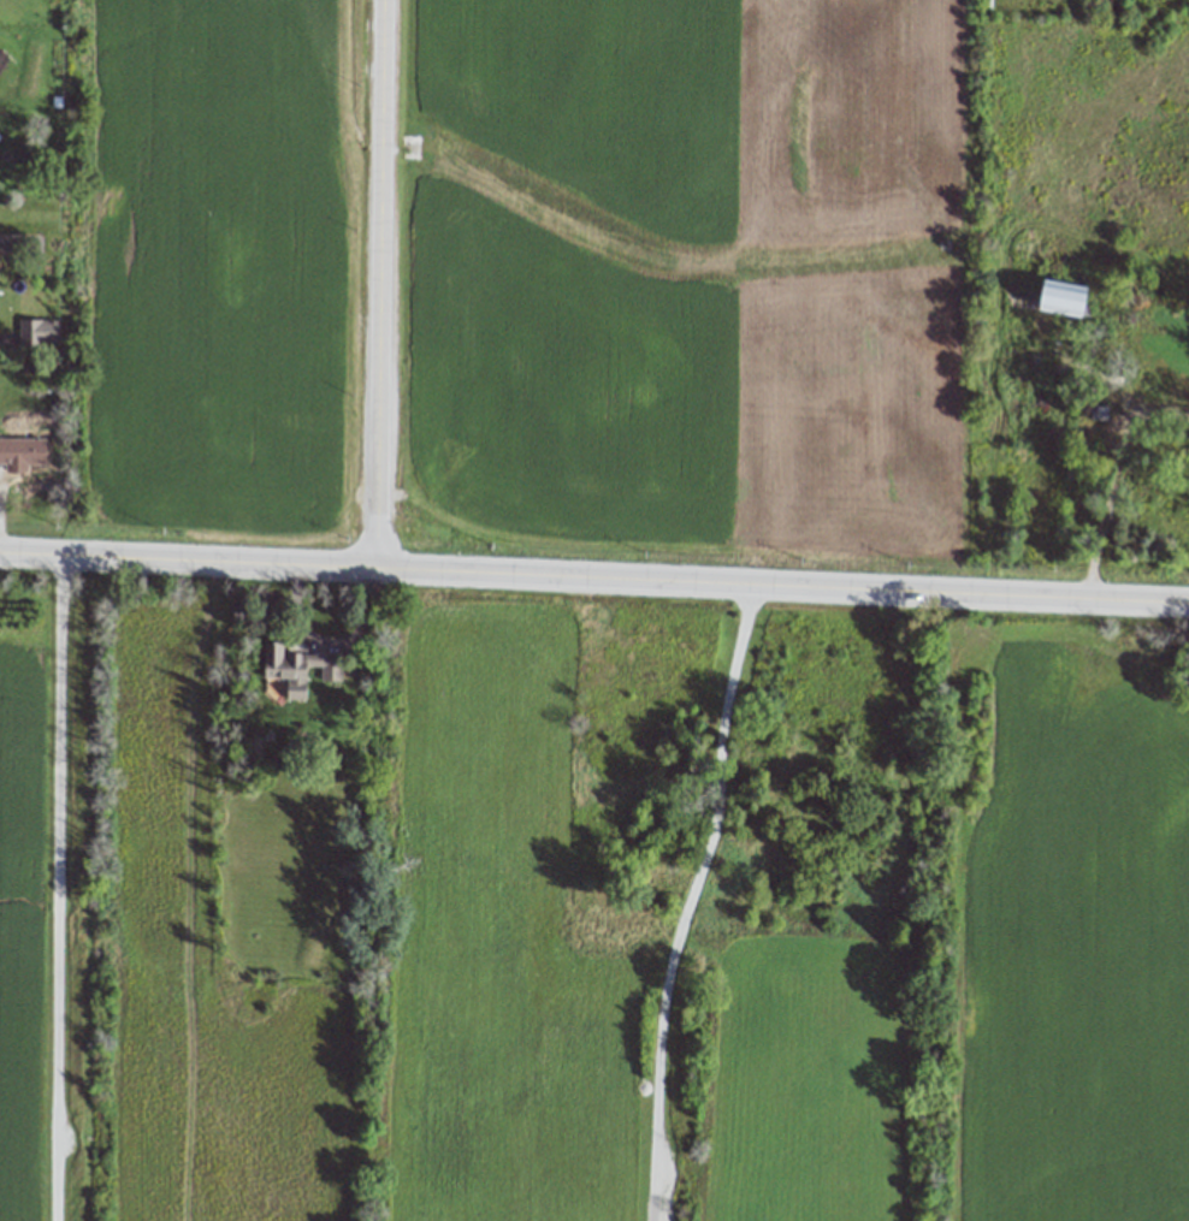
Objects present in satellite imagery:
road: (377, 289)
building: (1061, 297)
building: (37, 333)
building: (20, 454)
road: (1108, 480)
road: (593, 587)
building: (296, 668)
road: (57, 893)
road: (686, 903)
crop: (20, 921)
crop: (1071, 948)

